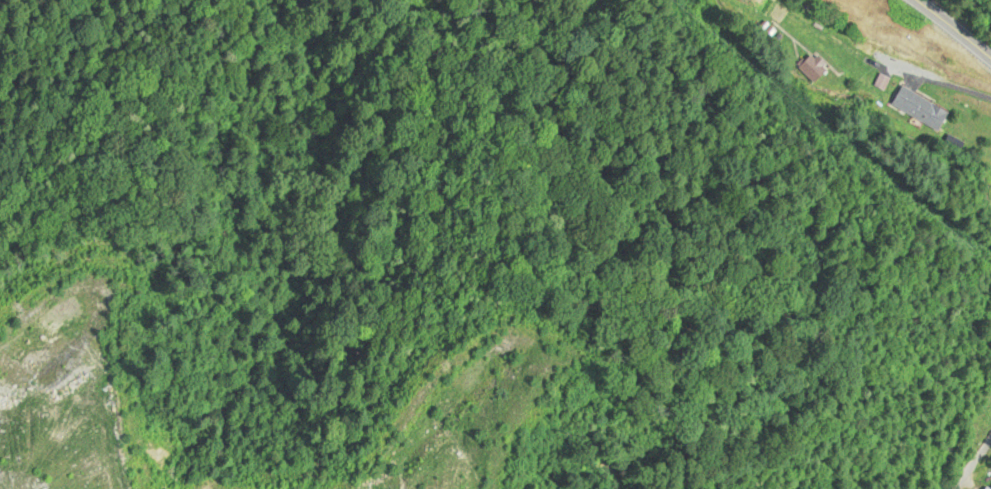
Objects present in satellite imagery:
road: (955, 27)
road: (745, 31)
building: (813, 69)
building: (921, 109)
building: (990, 183)
road: (946, 394)

